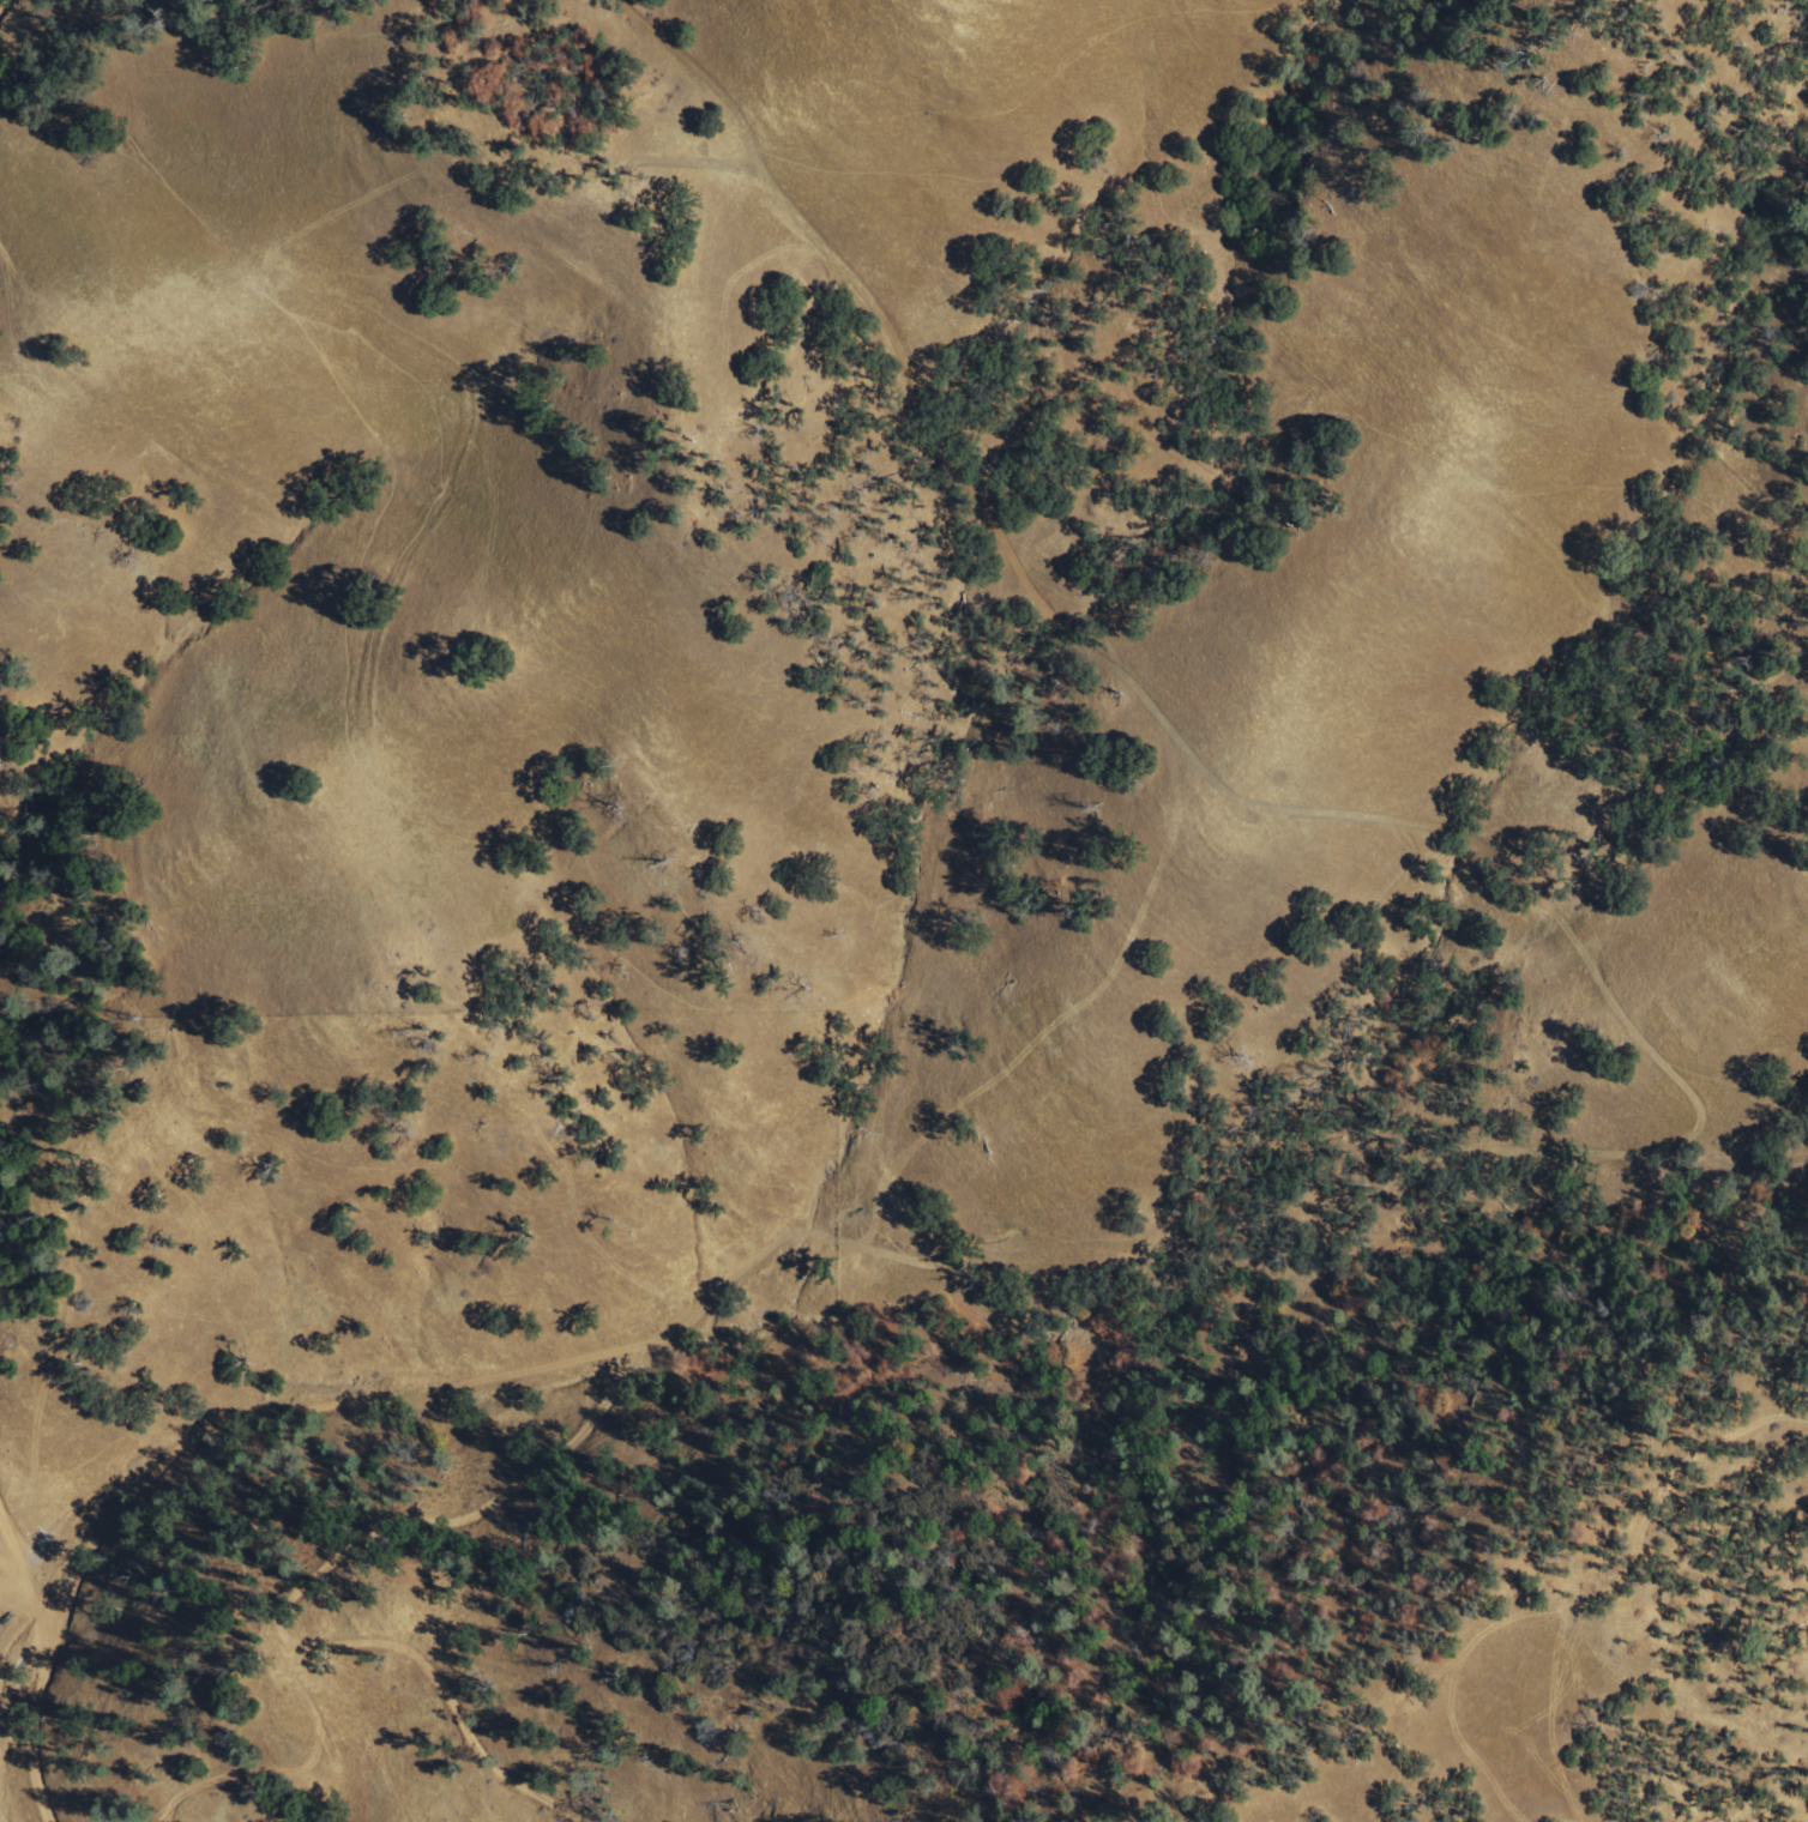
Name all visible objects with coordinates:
road: (23, 19)
road: (863, 1108)
road: (53, 1673)

